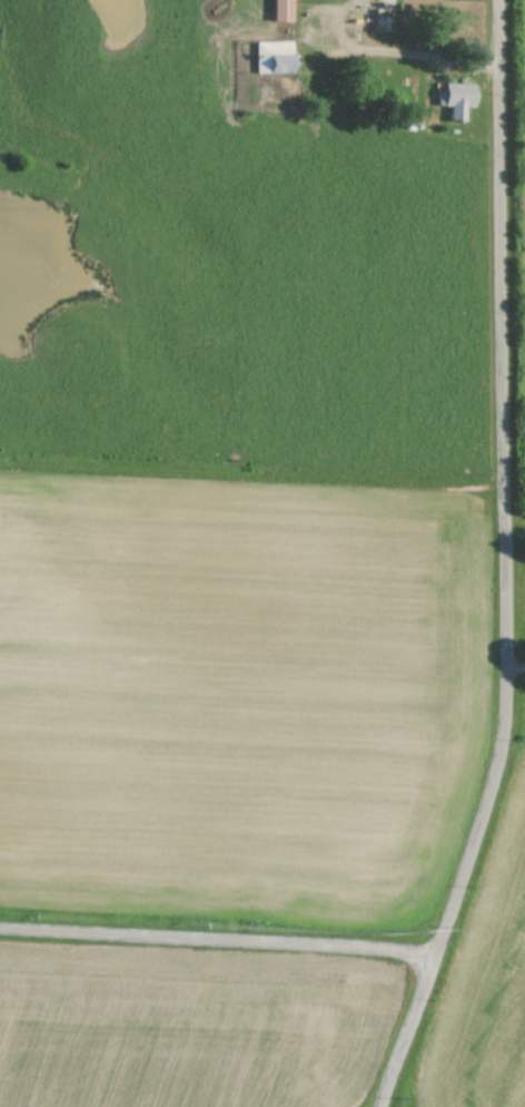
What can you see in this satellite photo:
building: (278, 9)
road: (357, 29)
building: (270, 56)
building: (454, 98)
road: (519, 538)
road: (514, 564)
road: (521, 666)
road: (220, 931)

